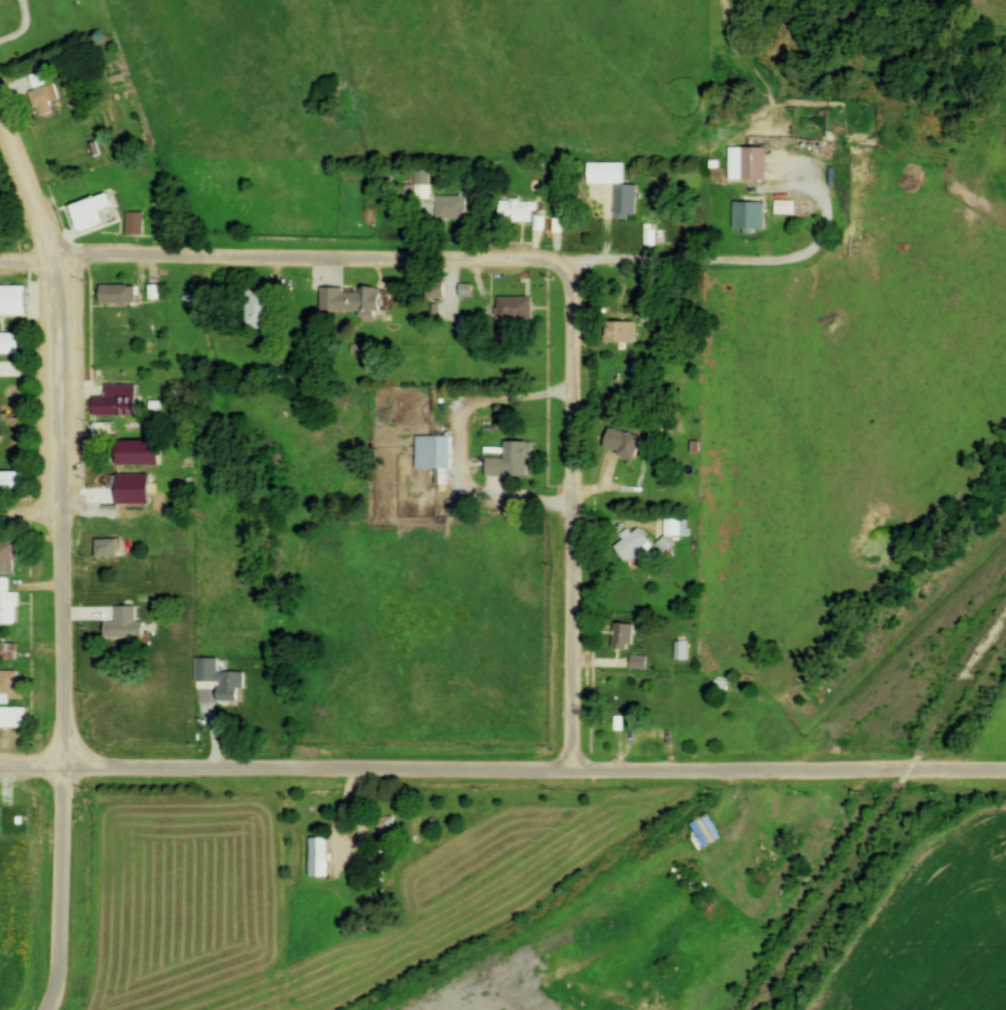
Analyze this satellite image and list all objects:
building: (747, 164)
building: (604, 171)
building: (449, 207)
building: (516, 211)
building: (96, 214)
building: (748, 217)
building: (139, 224)
road: (385, 260)
building: (434, 290)
building: (121, 296)
building: (361, 302)
building: (16, 303)
building: (257, 309)
building: (513, 309)
building: (618, 333)
building: (11, 344)
park: (21, 390)
building: (121, 403)
road: (66, 428)
building: (108, 430)
building: (621, 444)
building: (434, 447)
building: (510, 461)
building: (19, 483)
building: (119, 483)
road: (34, 514)
road: (580, 515)
building: (673, 530)
building: (632, 545)
building: (107, 550)
building: (10, 555)
building: (10, 603)
building: (123, 626)
building: (622, 637)
building: (681, 651)
building: (637, 663)
building: (217, 679)
building: (628, 701)
building: (14, 718)
road: (502, 771)
building: (385, 828)
building: (317, 857)
road: (62, 891)

